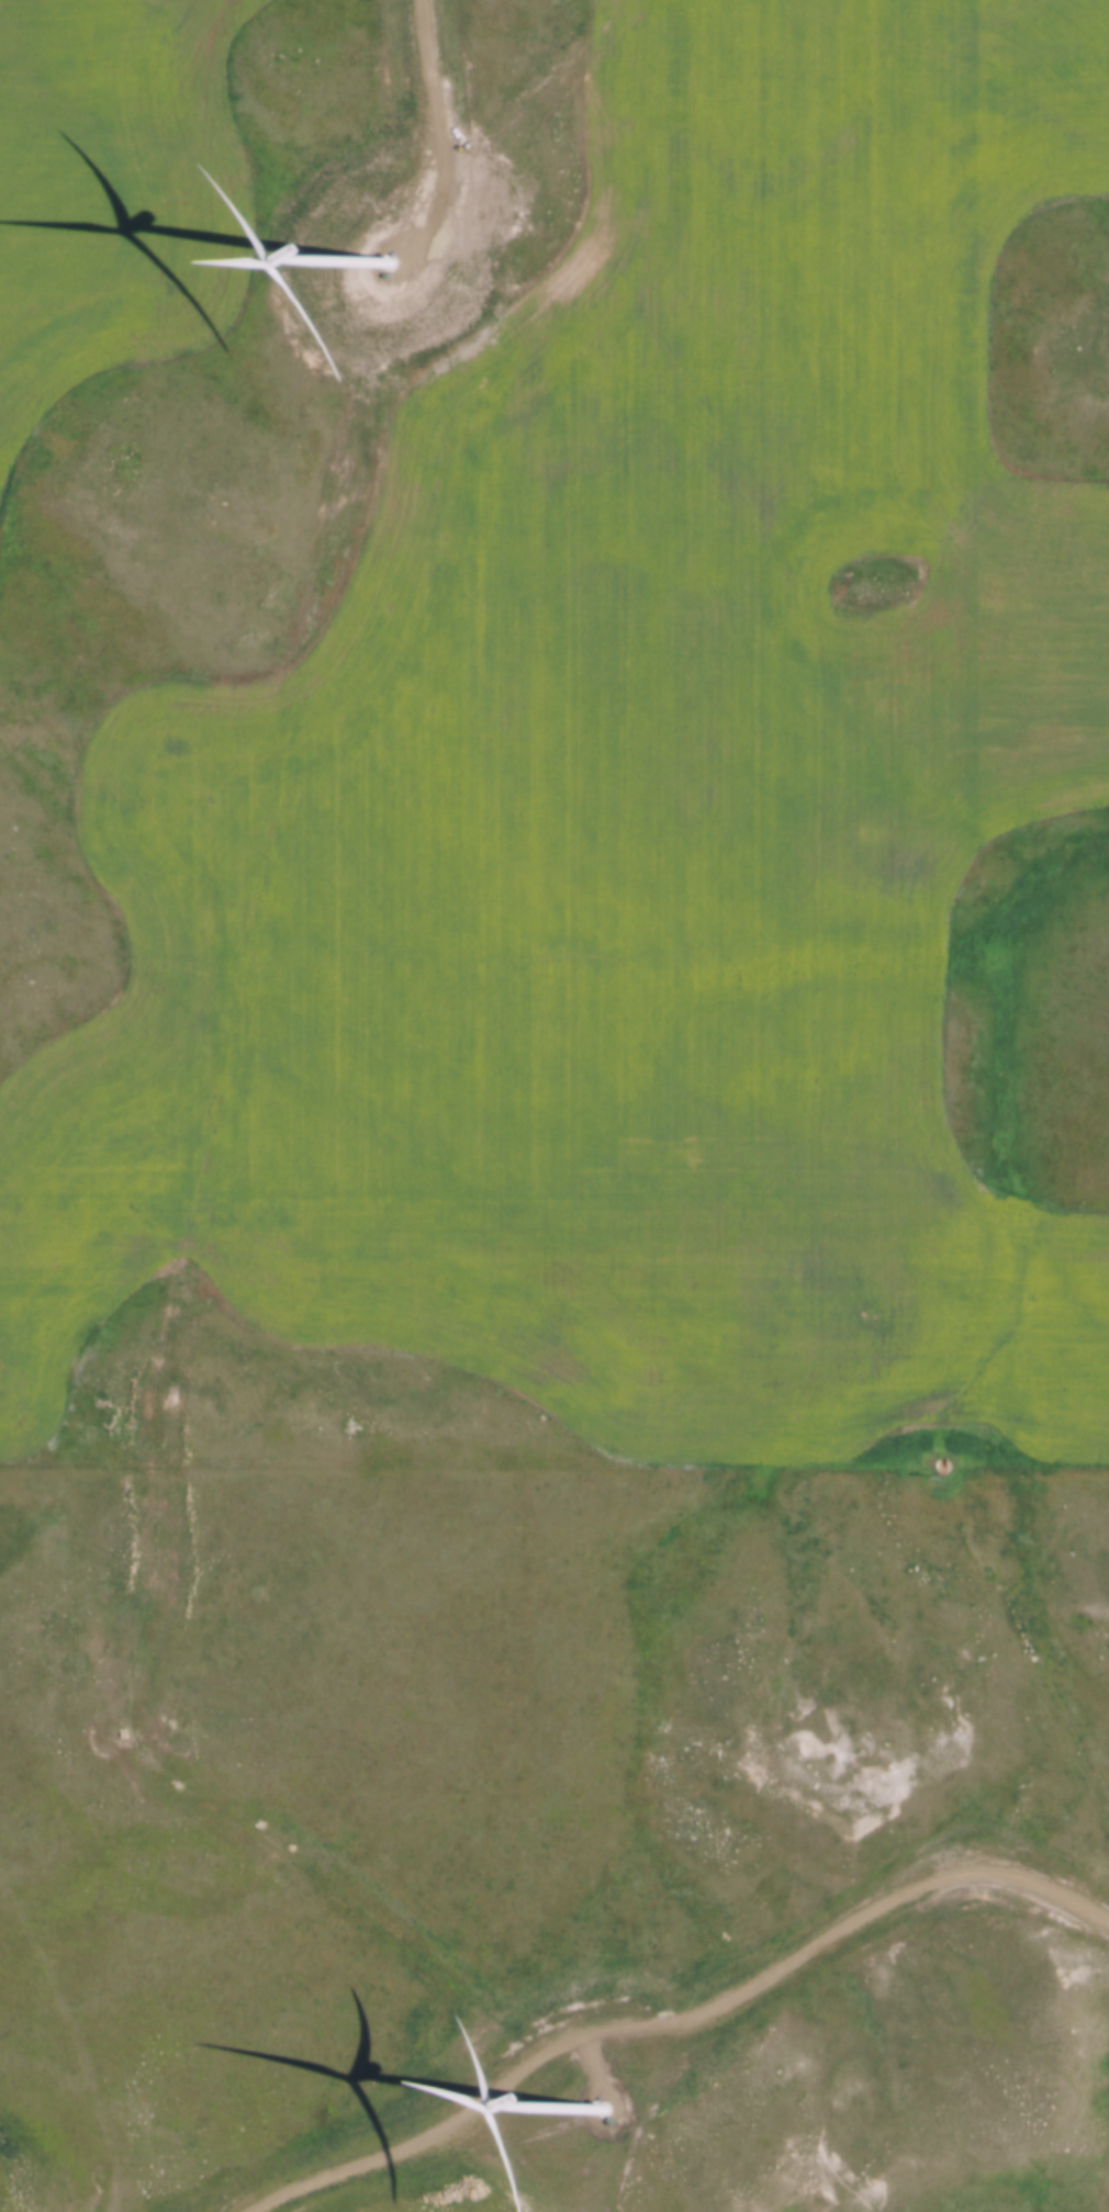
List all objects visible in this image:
road: (443, 116)
wind turbine: (387, 251)
road: (672, 2014)
wind turbine: (609, 2109)

